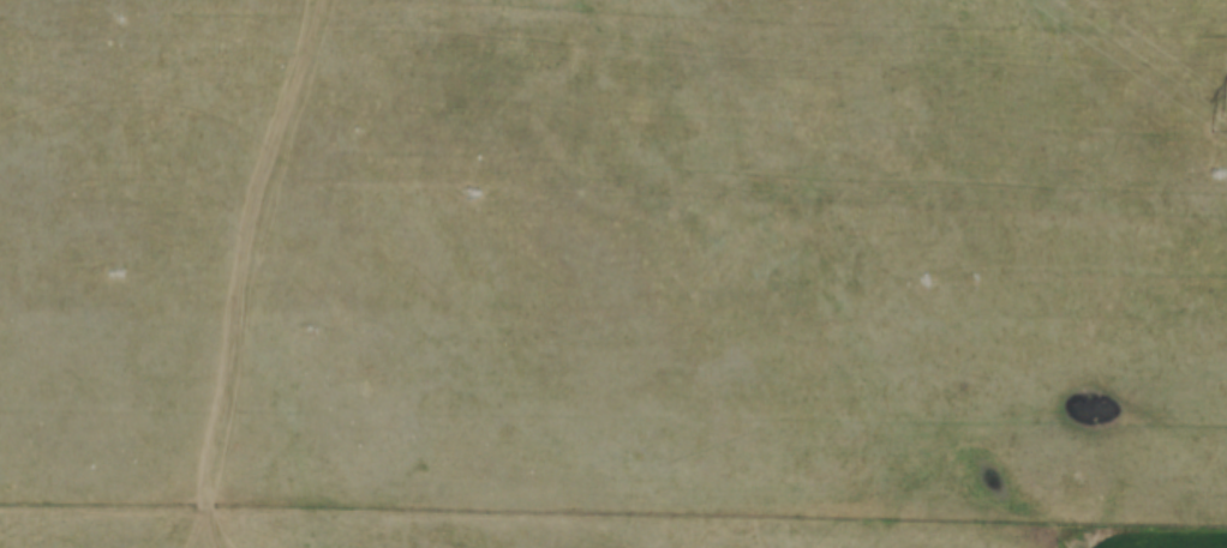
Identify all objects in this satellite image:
power tower: (1215, 124)

